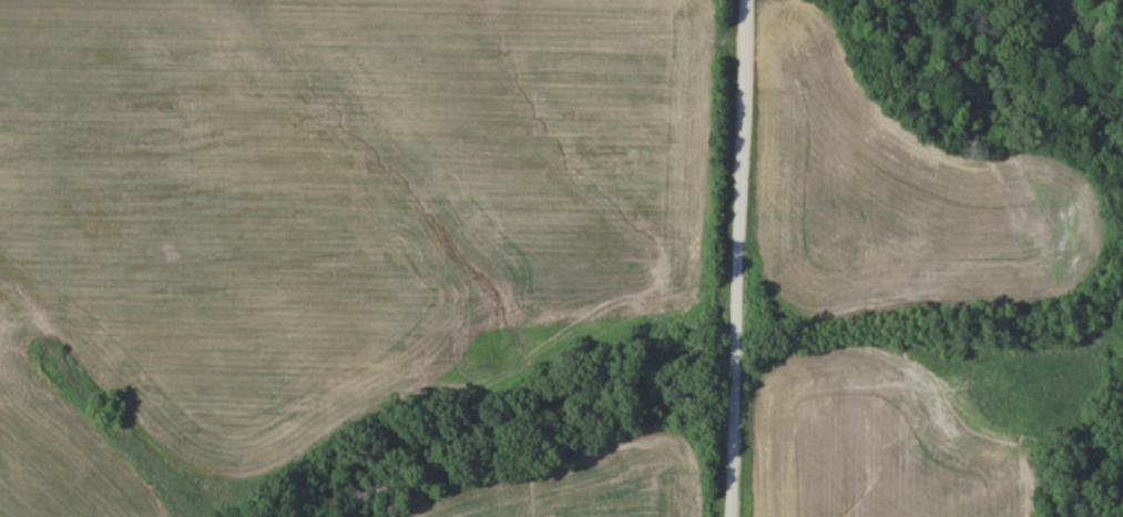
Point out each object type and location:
road: (736, 257)

